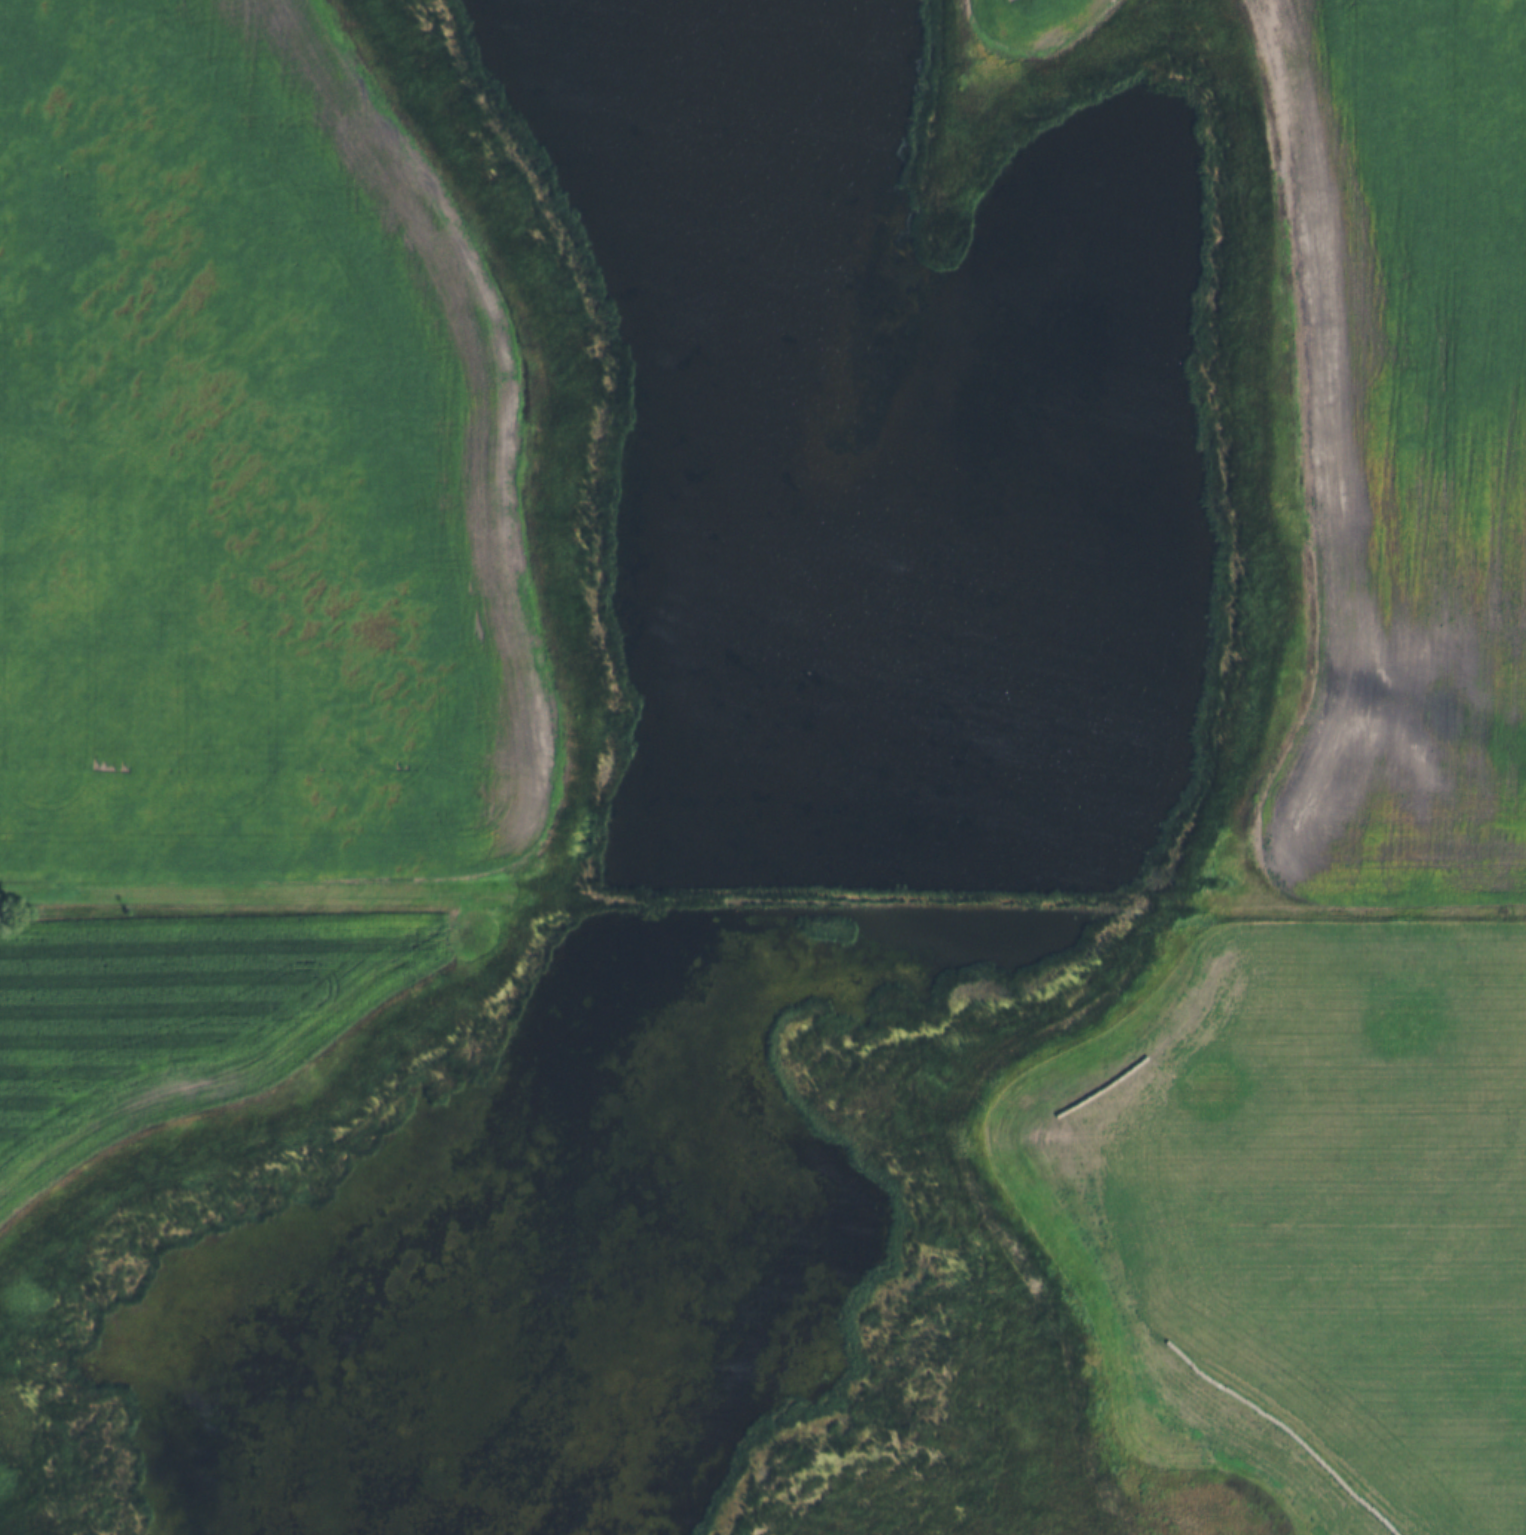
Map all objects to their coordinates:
road: (763, 882)

